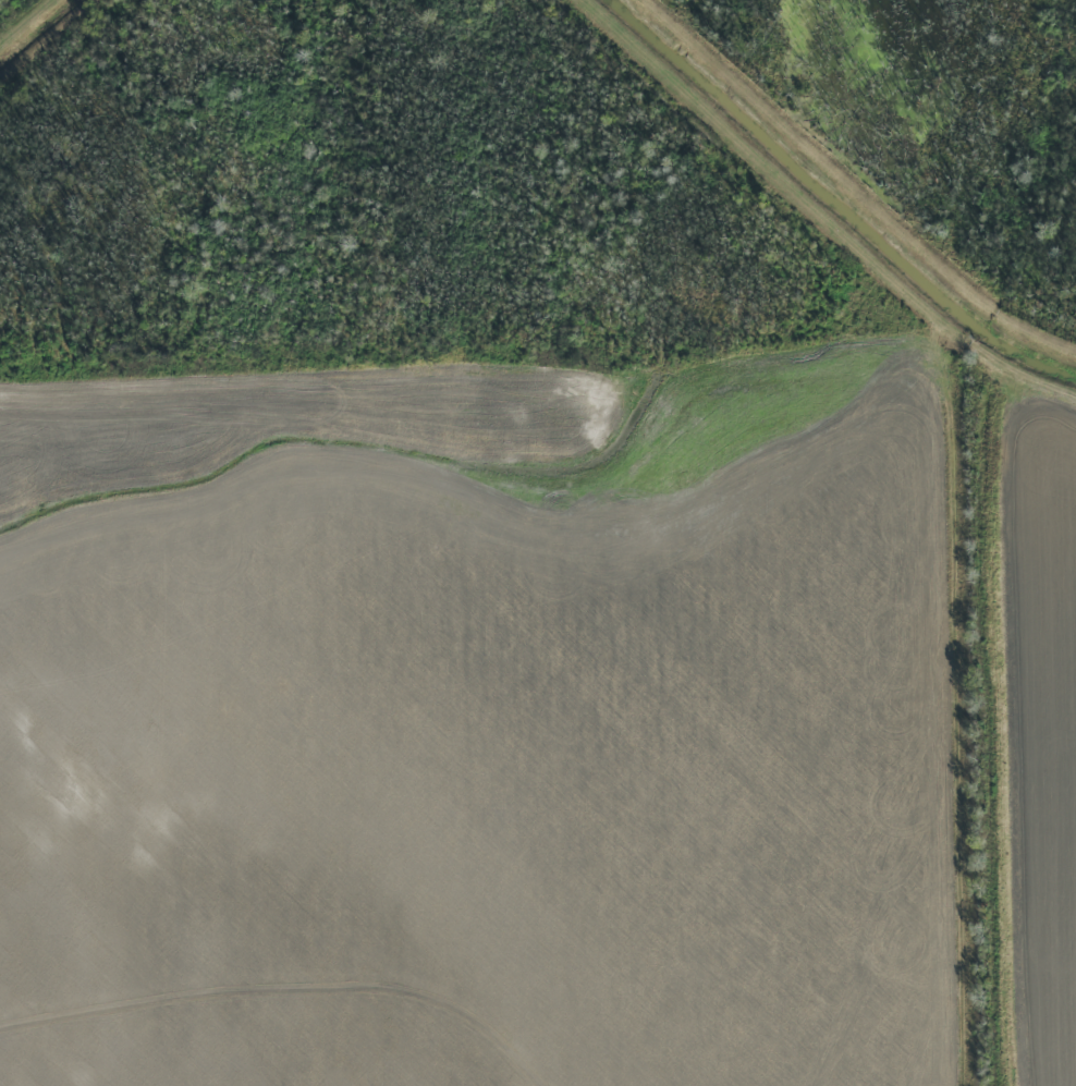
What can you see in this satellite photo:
road: (855, 190)
road: (820, 213)
road: (1012, 732)

